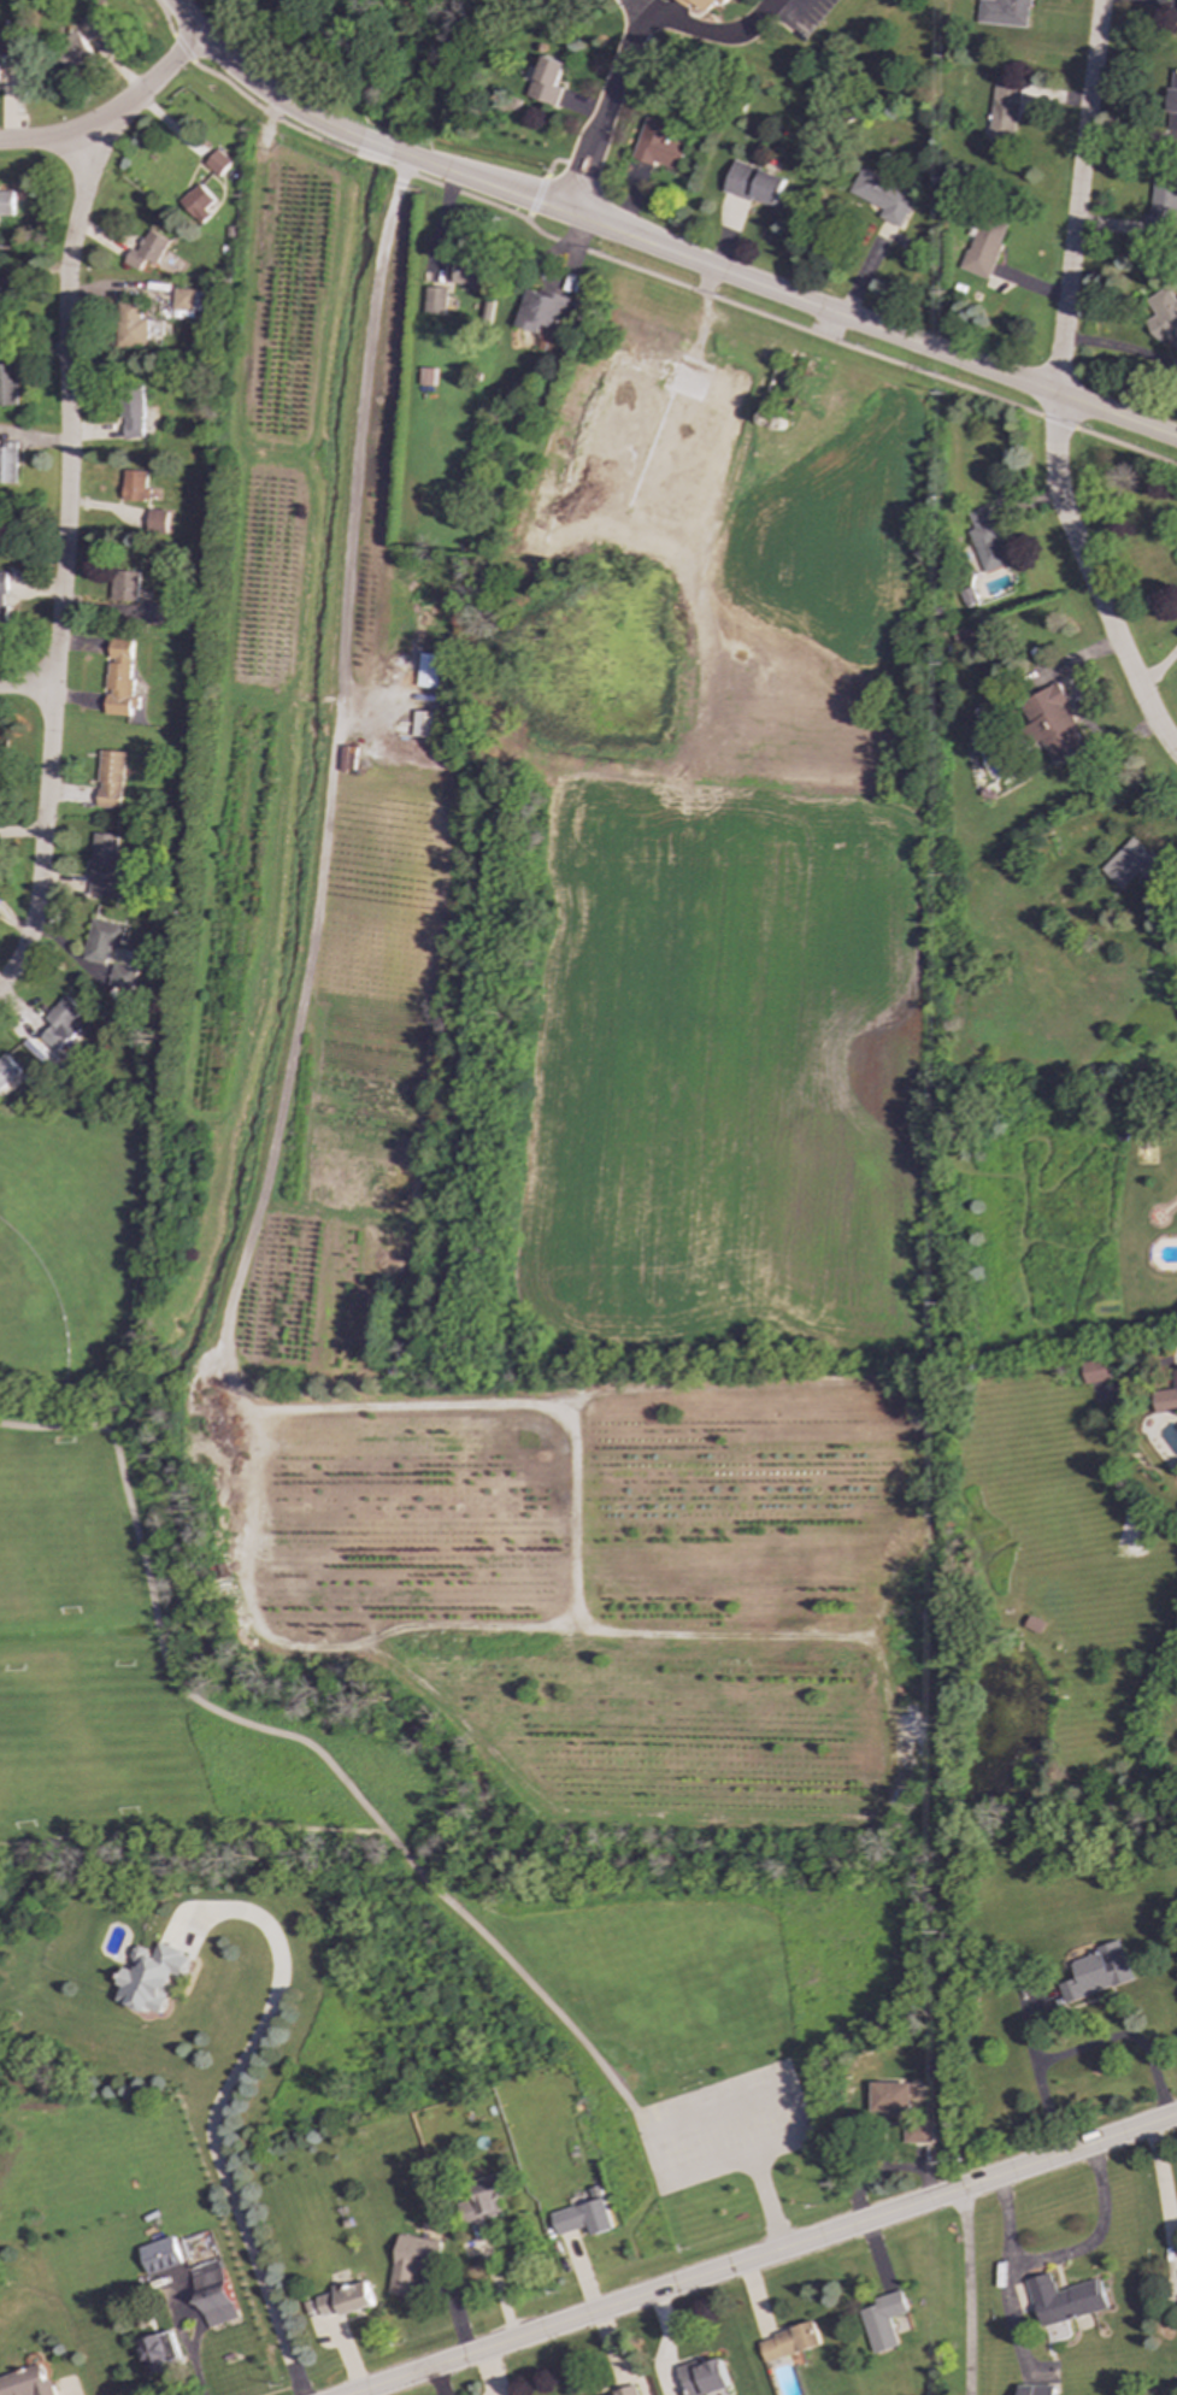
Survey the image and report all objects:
road: (641, 4)
building: (708, 4)
building: (1004, 12)
road: (164, 18)
building: (93, 23)
road: (712, 31)
building: (6, 45)
road: (182, 48)
building: (71, 52)
building: (547, 81)
building: (1172, 100)
road: (601, 111)
building: (1004, 111)
road: (267, 114)
road: (112, 119)
building: (659, 145)
road: (370, 159)
road: (554, 161)
building: (217, 163)
building: (755, 184)
building: (883, 196)
road: (535, 201)
building: (196, 202)
building: (5, 204)
building: (1163, 206)
building: (984, 247)
road: (655, 248)
building: (146, 251)
building: (465, 272)
building: (7, 288)
road: (707, 296)
building: (183, 300)
building: (435, 300)
building: (540, 310)
building: (1163, 317)
building: (131, 325)
road: (1119, 348)
building: (7, 384)
road: (1059, 389)
building: (133, 413)
road: (1057, 423)
road: (1125, 448)
building: (7, 463)
building: (136, 486)
building: (158, 520)
crop: (830, 534)
building: (987, 540)
road: (64, 565)
building: (124, 585)
building: (2, 601)
building: (159, 614)
building: (964, 635)
road: (1157, 667)
building: (429, 671)
building: (119, 678)
road: (27, 687)
building: (423, 724)
building: (1052, 724)
road: (332, 761)
building: (111, 779)
building: (1135, 865)
building: (104, 866)
building: (102, 940)
building: (122, 977)
building: (60, 1024)
crop: (724, 1073)
building: (7, 1075)
building: (1094, 1371)
building: (1166, 1399)
road: (577, 1512)
road: (614, 1632)
park: (348, 1738)
road: (301, 1748)
road: (896, 1756)
building: (1096, 1972)
building: (152, 1978)
road: (1126, 2038)
road: (1040, 2082)
building: (889, 2099)
road: (220, 2111)
road: (795, 2114)
building: (917, 2131)
parking lot: (716, 2132)
building: (483, 2200)
road: (1164, 2208)
building: (584, 2218)
building: (160, 2255)
road: (769, 2255)
road: (1060, 2255)
building: (411, 2261)
road: (967, 2290)
building: (213, 2294)
building: (1064, 2300)
building: (341, 2301)
building: (883, 2320)
building: (789, 2342)
building: (158, 2353)
building: (704, 2377)
building: (25, 2383)
building: (1034, 2390)
building: (626, 2391)

